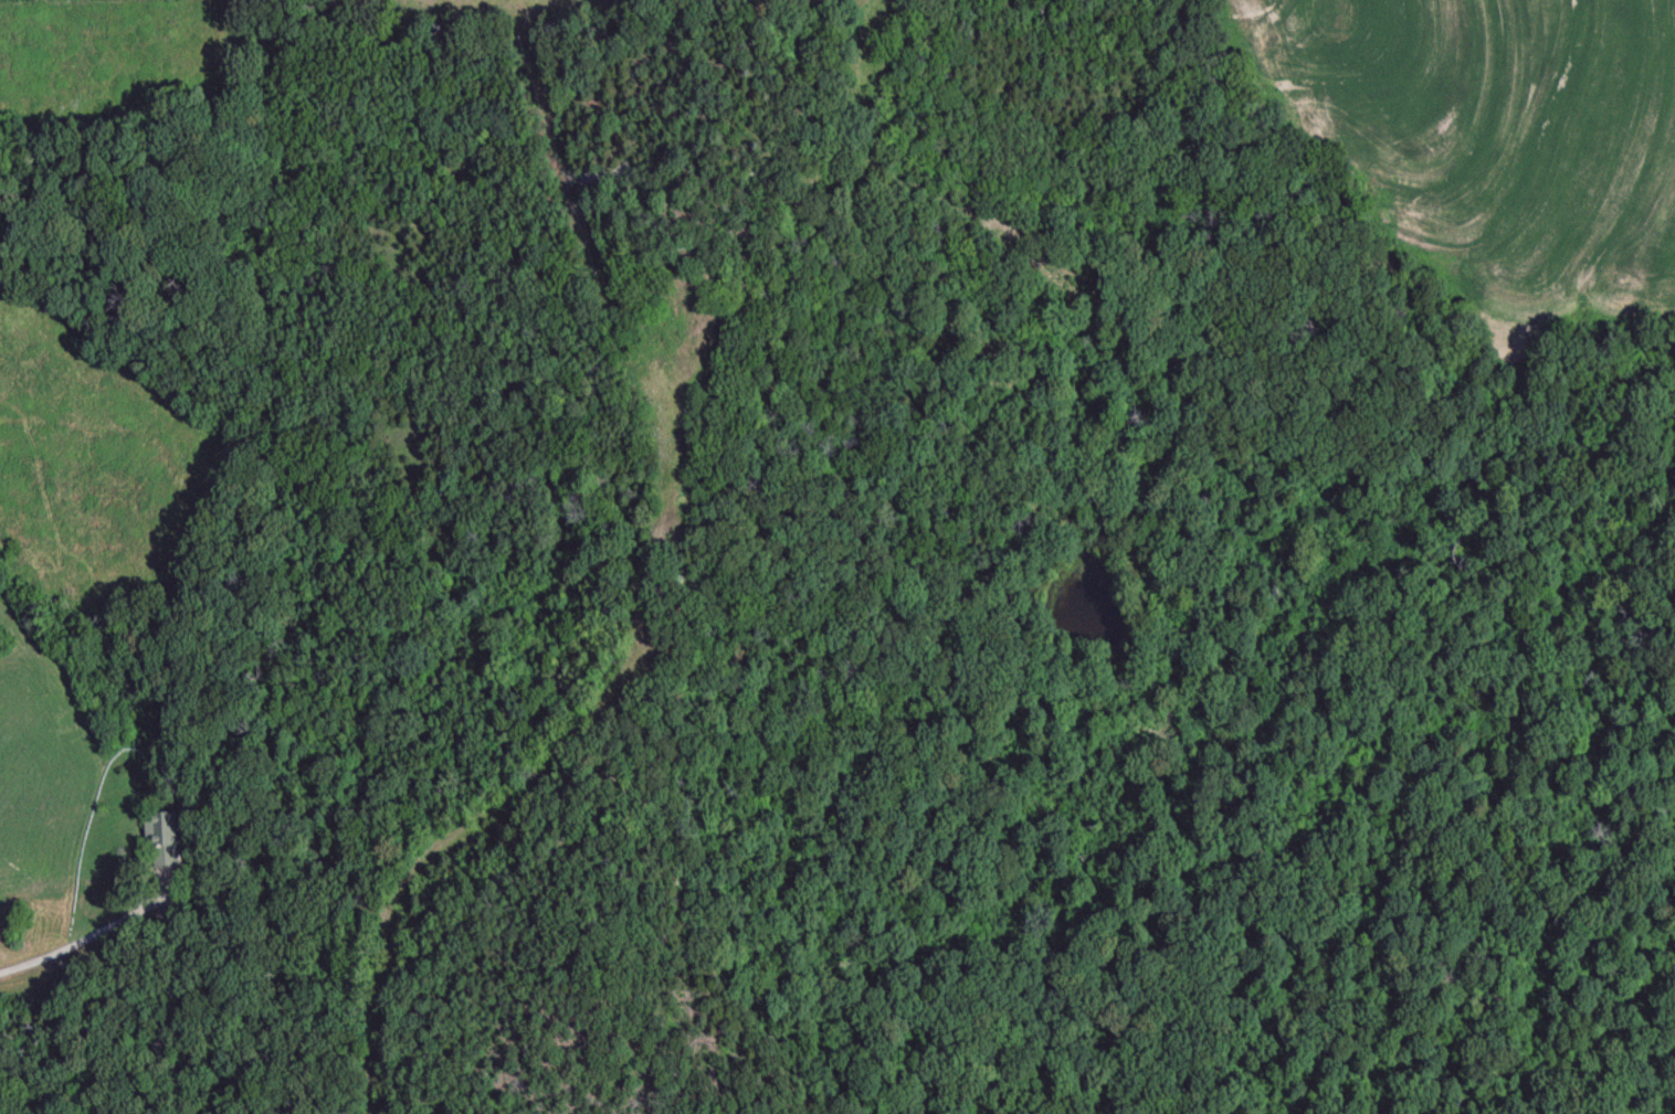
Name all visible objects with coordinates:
building: (162, 841)

